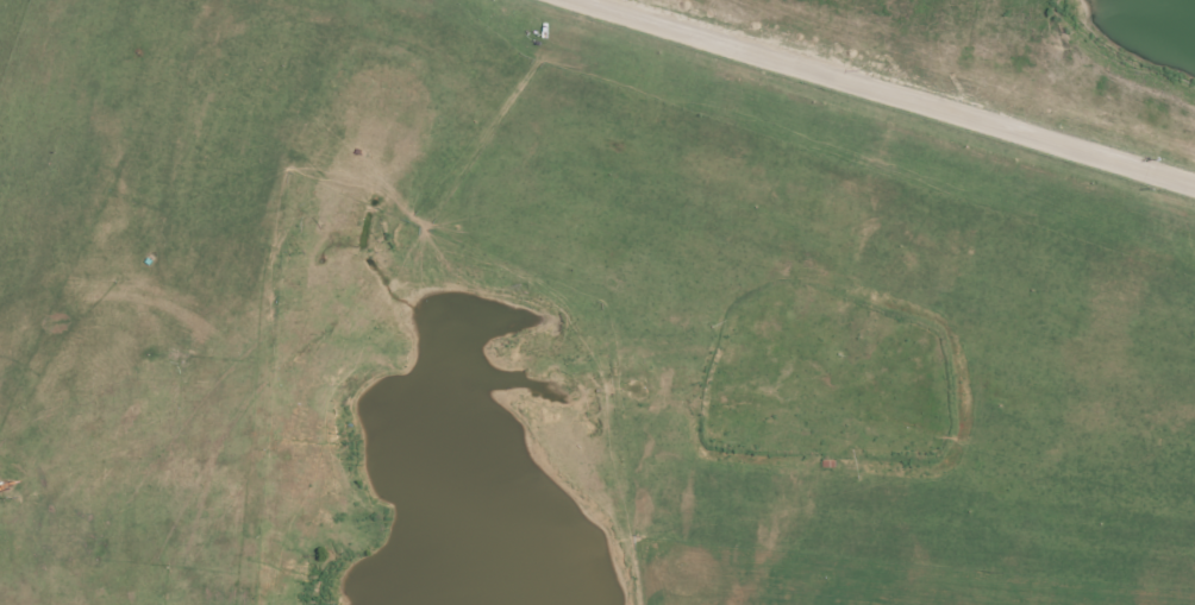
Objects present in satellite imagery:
road: (894, 89)
road: (763, 323)

